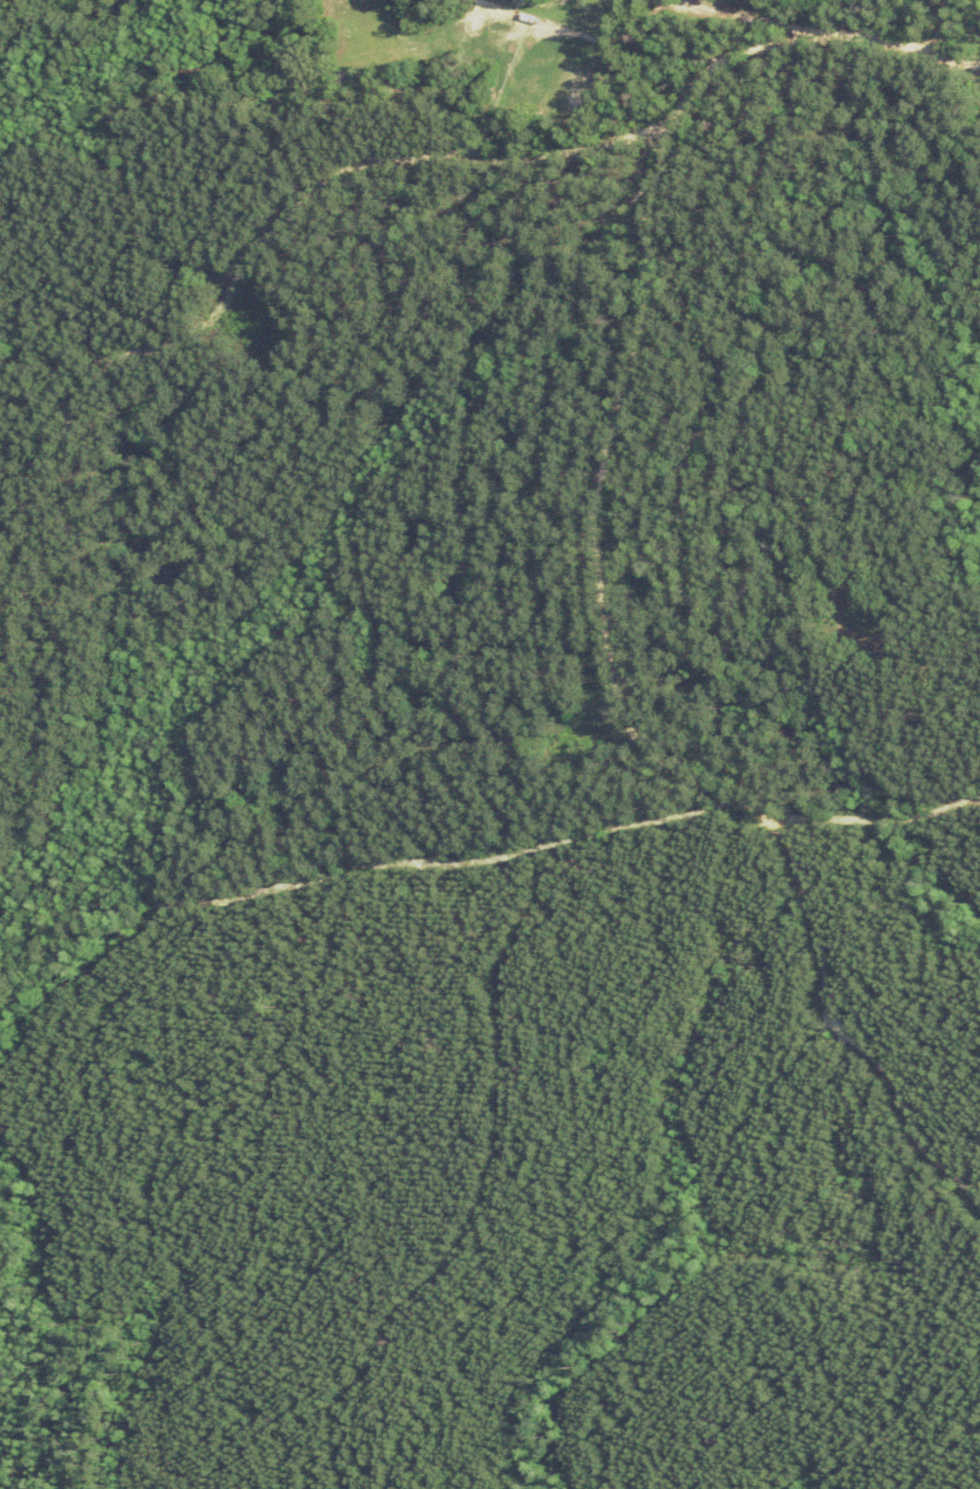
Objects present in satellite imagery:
road: (823, 24)
road: (594, 646)

